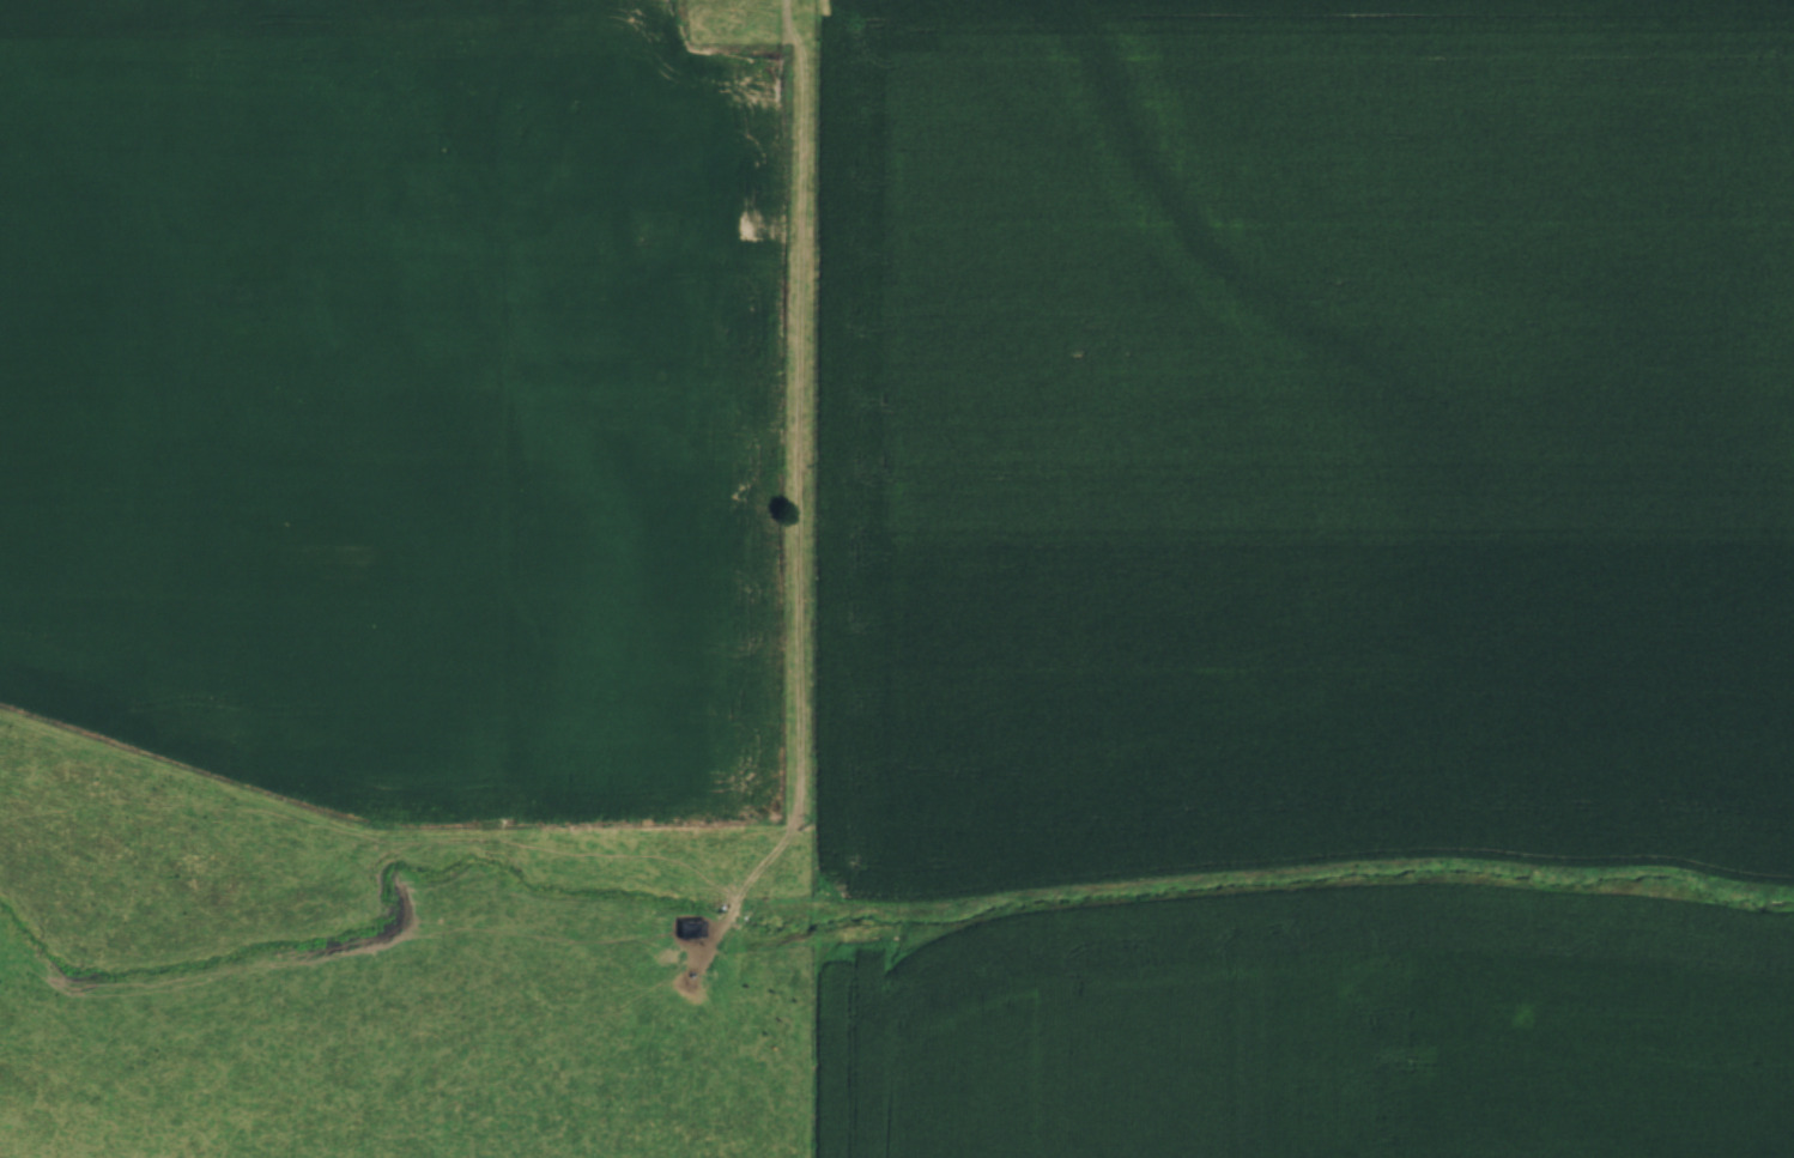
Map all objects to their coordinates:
building: (713, 31)
road: (786, 59)
building: (531, 122)
building: (764, 224)

